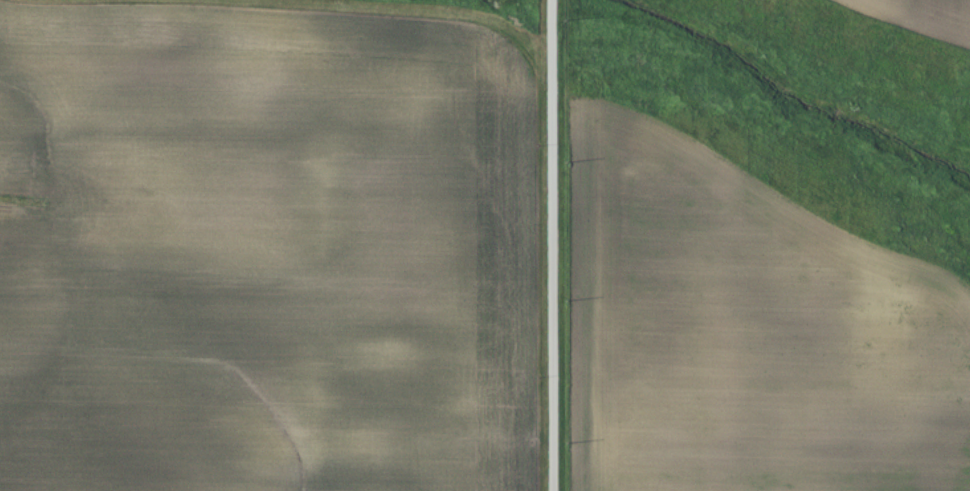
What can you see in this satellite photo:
road: (548, 245)

